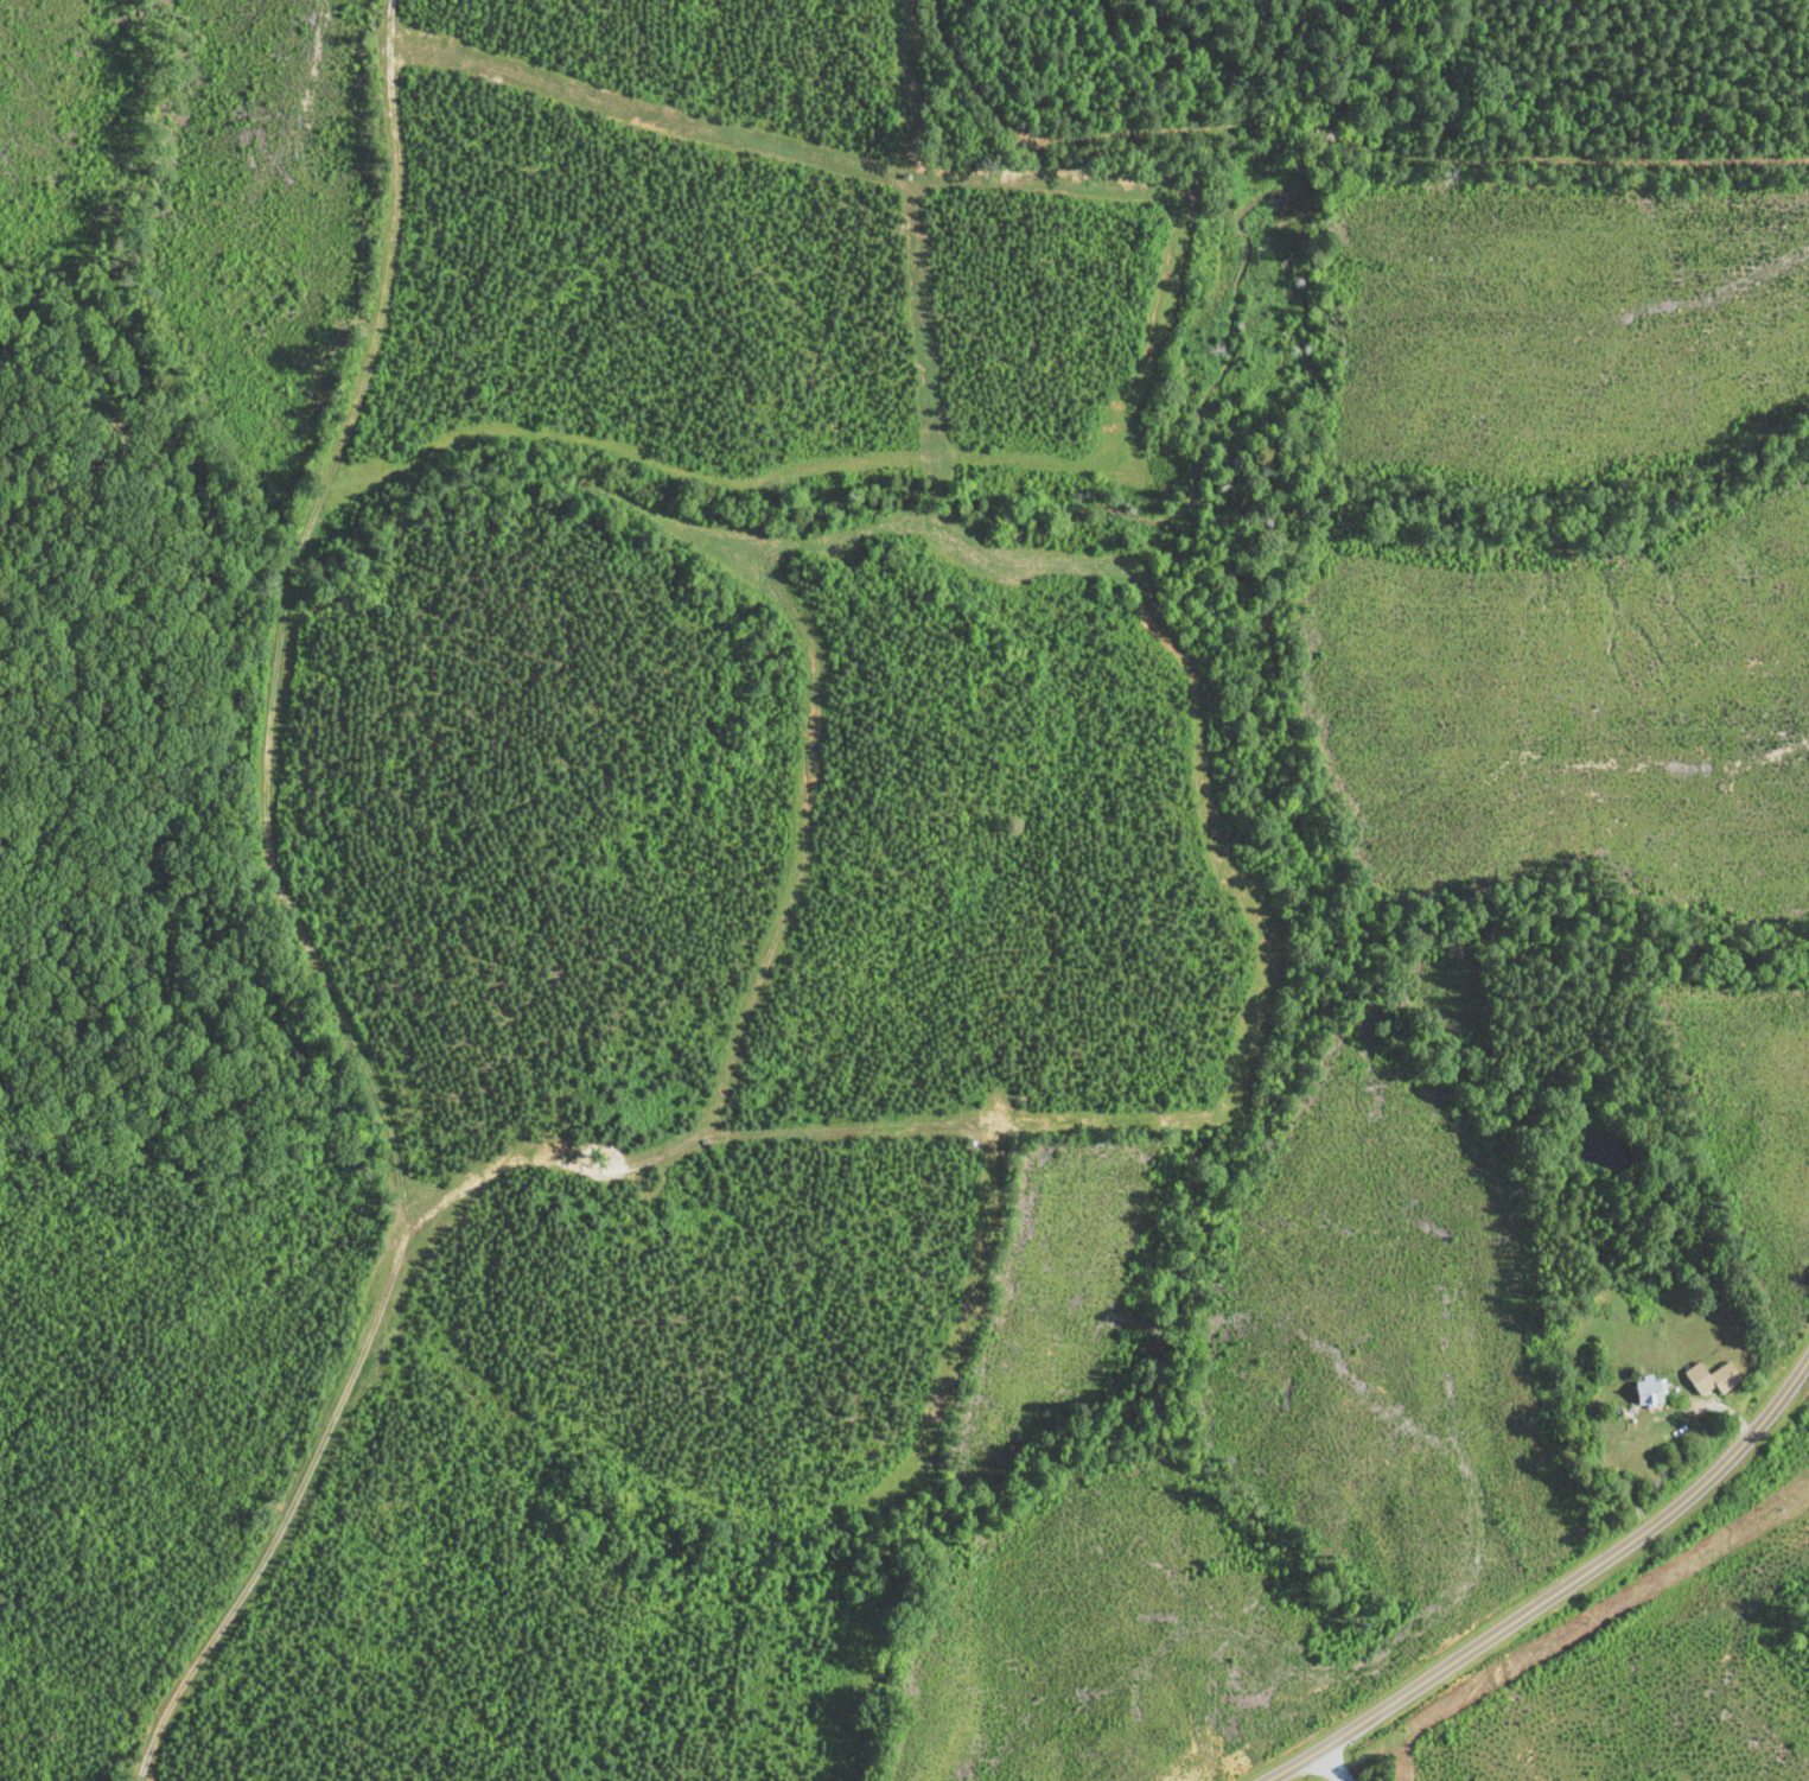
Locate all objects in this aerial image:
building: (1727, 1379)
building: (1652, 1392)
road: (1560, 1592)
road: (1333, 1767)

